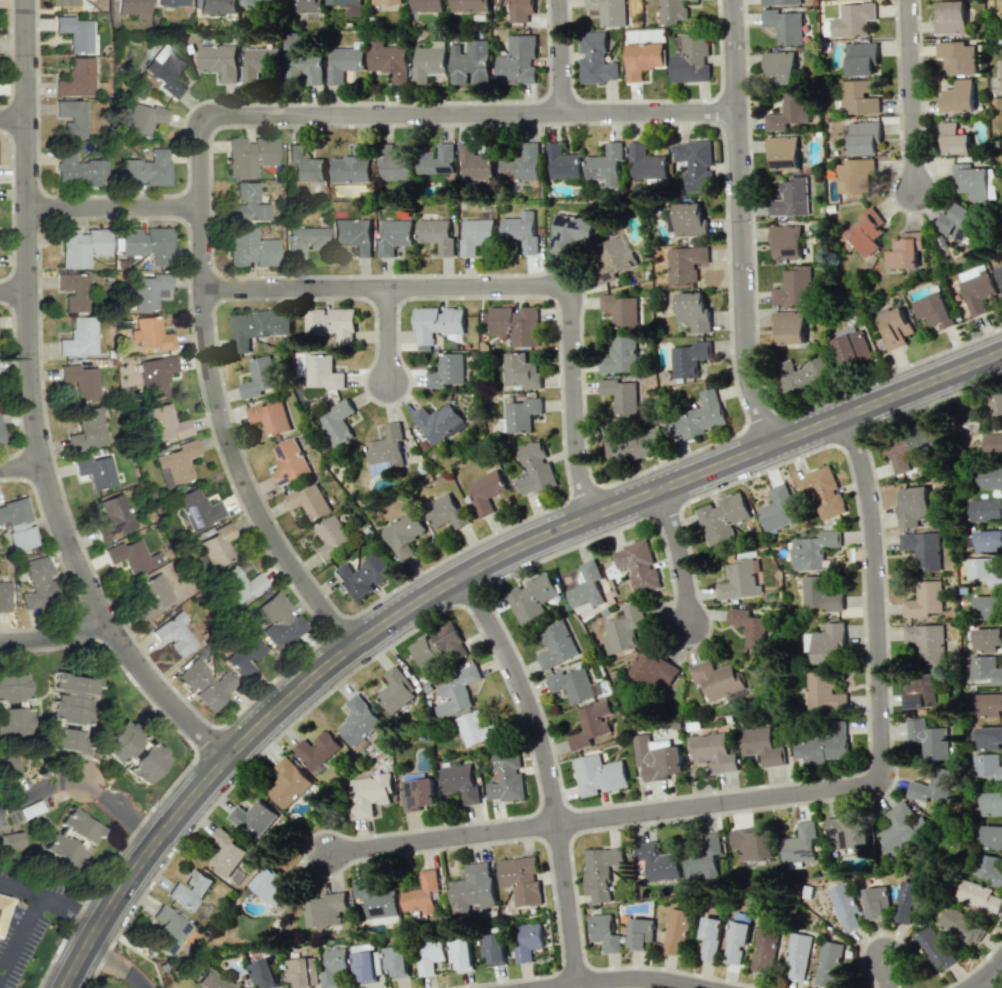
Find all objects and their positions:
building: (64, 2)
building: (259, 2)
building: (344, 2)
building: (780, 2)
building: (171, 3)
building: (427, 5)
building: (468, 5)
building: (217, 6)
building: (301, 6)
building: (132, 8)
building: (519, 10)
building: (608, 11)
building: (672, 11)
building: (951, 17)
building: (852, 20)
building: (785, 25)
building: (78, 33)
road: (563, 55)
building: (958, 56)
building: (595, 59)
building: (642, 59)
building: (690, 59)
building: (861, 59)
building: (220, 60)
building: (389, 60)
building: (517, 61)
building: (343, 62)
building: (429, 62)
building: (469, 62)
building: (258, 63)
building: (780, 67)
building: (304, 68)
building: (165, 69)
building: (1000, 75)
building: (77, 78)
road: (912, 95)
building: (960, 96)
building: (858, 97)
building: (789, 111)
building: (72, 118)
road: (12, 119)
building: (143, 119)
road: (198, 135)
building: (863, 137)
building: (954, 139)
building: (783, 152)
building: (249, 156)
building: (437, 159)
building: (646, 162)
building: (563, 163)
building: (476, 164)
building: (522, 164)
building: (606, 164)
building: (695, 164)
building: (304, 165)
building: (395, 167)
building: (78, 169)
building: (350, 169)
building: (145, 170)
building: (855, 173)
building: (972, 181)
building: (791, 197)
building: (248, 204)
road: (113, 207)
building: (689, 219)
road: (744, 222)
building: (961, 222)
building: (570, 231)
building: (867, 231)
building: (522, 232)
building: (353, 235)
building: (437, 235)
building: (476, 235)
building: (393, 236)
building: (304, 241)
building: (787, 241)
building: (146, 243)
building: (82, 247)
building: (250, 248)
building: (905, 251)
building: (614, 259)
building: (685, 263)
building: (999, 273)
road: (501, 285)
building: (795, 286)
building: (148, 290)
building: (978, 290)
road: (13, 291)
building: (73, 291)
building: (621, 309)
building: (934, 310)
building: (693, 311)
road: (27, 318)
building: (437, 323)
building: (331, 324)
building: (515, 325)
building: (790, 326)
building: (256, 328)
building: (896, 328)
building: (150, 334)
building: (79, 338)
road: (386, 338)
building: (852, 349)
building: (620, 355)
building: (689, 358)
building: (446, 371)
building: (519, 371)
building: (323, 372)
building: (155, 375)
building: (260, 377)
building: (802, 377)
building: (80, 381)
building: (621, 395)
building: (993, 406)
building: (519, 415)
building: (270, 417)
building: (699, 417)
building: (336, 422)
building: (437, 422)
building: (166, 423)
building: (87, 430)
building: (631, 442)
building: (992, 443)
building: (909, 448)
building: (386, 450)
building: (288, 462)
building: (175, 464)
building: (534, 467)
road: (21, 469)
building: (95, 470)
building: (990, 476)
building: (485, 490)
building: (822, 492)
building: (308, 500)
building: (913, 507)
building: (985, 507)
building: (197, 508)
building: (445, 512)
road: (592, 514)
building: (112, 518)
building: (722, 518)
building: (18, 523)
building: (403, 533)
building: (331, 537)
building: (988, 541)
building: (214, 549)
building: (813, 549)
building: (922, 550)
road: (680, 554)
building: (130, 556)
building: (638, 565)
building: (983, 571)
building: (361, 576)
building: (738, 580)
building: (37, 584)
building: (239, 584)
building: (586, 585)
building: (154, 592)
building: (821, 594)
building: (4, 597)
building: (531, 598)
building: (925, 599)
building: (988, 607)
building: (278, 620)
building: (750, 626)
building: (624, 630)
building: (174, 634)
road: (54, 635)
building: (987, 639)
building: (926, 640)
building: (829, 644)
building: (556, 645)
building: (437, 646)
building: (244, 656)
building: (985, 668)
building: (654, 669)
building: (717, 679)
building: (206, 684)
building: (572, 684)
building: (12, 688)
building: (395, 690)
building: (455, 692)
building: (922, 692)
building: (824, 693)
road: (162, 694)
building: (71, 698)
building: (989, 704)
building: (357, 720)
building: (14, 721)
building: (591, 724)
building: (473, 728)
building: (989, 737)
building: (928, 738)
building: (64, 739)
building: (118, 742)
building: (824, 745)
building: (761, 746)
building: (316, 750)
building: (712, 751)
building: (656, 759)
building: (146, 763)
building: (9, 766)
building: (987, 766)
road: (547, 770)
building: (599, 774)
building: (506, 777)
building: (460, 782)
building: (288, 783)
building: (933, 785)
road: (83, 788)
building: (368, 793)
building: (417, 794)
road: (784, 795)
building: (991, 803)
building: (254, 818)
building: (78, 826)
building: (901, 828)
building: (847, 832)
building: (992, 836)
building: (11, 840)
building: (753, 844)
building: (800, 844)
building: (61, 850)
building: (705, 857)
building: (228, 862)
building: (657, 862)
road: (138, 866)
building: (989, 868)
building: (601, 871)
building: (521, 879)
building: (472, 888)
building: (189, 890)
building: (421, 893)
building: (977, 896)
building: (376, 898)
building: (876, 901)
road: (50, 902)
building: (908, 903)
building: (2, 906)
building: (846, 906)
building: (326, 909)
building: (961, 925)
building: (168, 930)
building: (677, 930)
building: (604, 932)
building: (641, 933)
road: (21, 936)
building: (711, 937)
building: (528, 942)
building: (737, 942)
building: (494, 948)
building: (934, 948)
building: (765, 950)
building: (462, 953)
building: (431, 954)
building: (798, 955)
building: (396, 961)
building: (366, 962)
building: (829, 963)
road: (118, 966)
building: (334, 966)
building: (302, 972)
building: (263, 973)
road: (886, 973)
road: (986, 975)
road: (997, 976)
road: (624, 977)
building: (214, 980)

